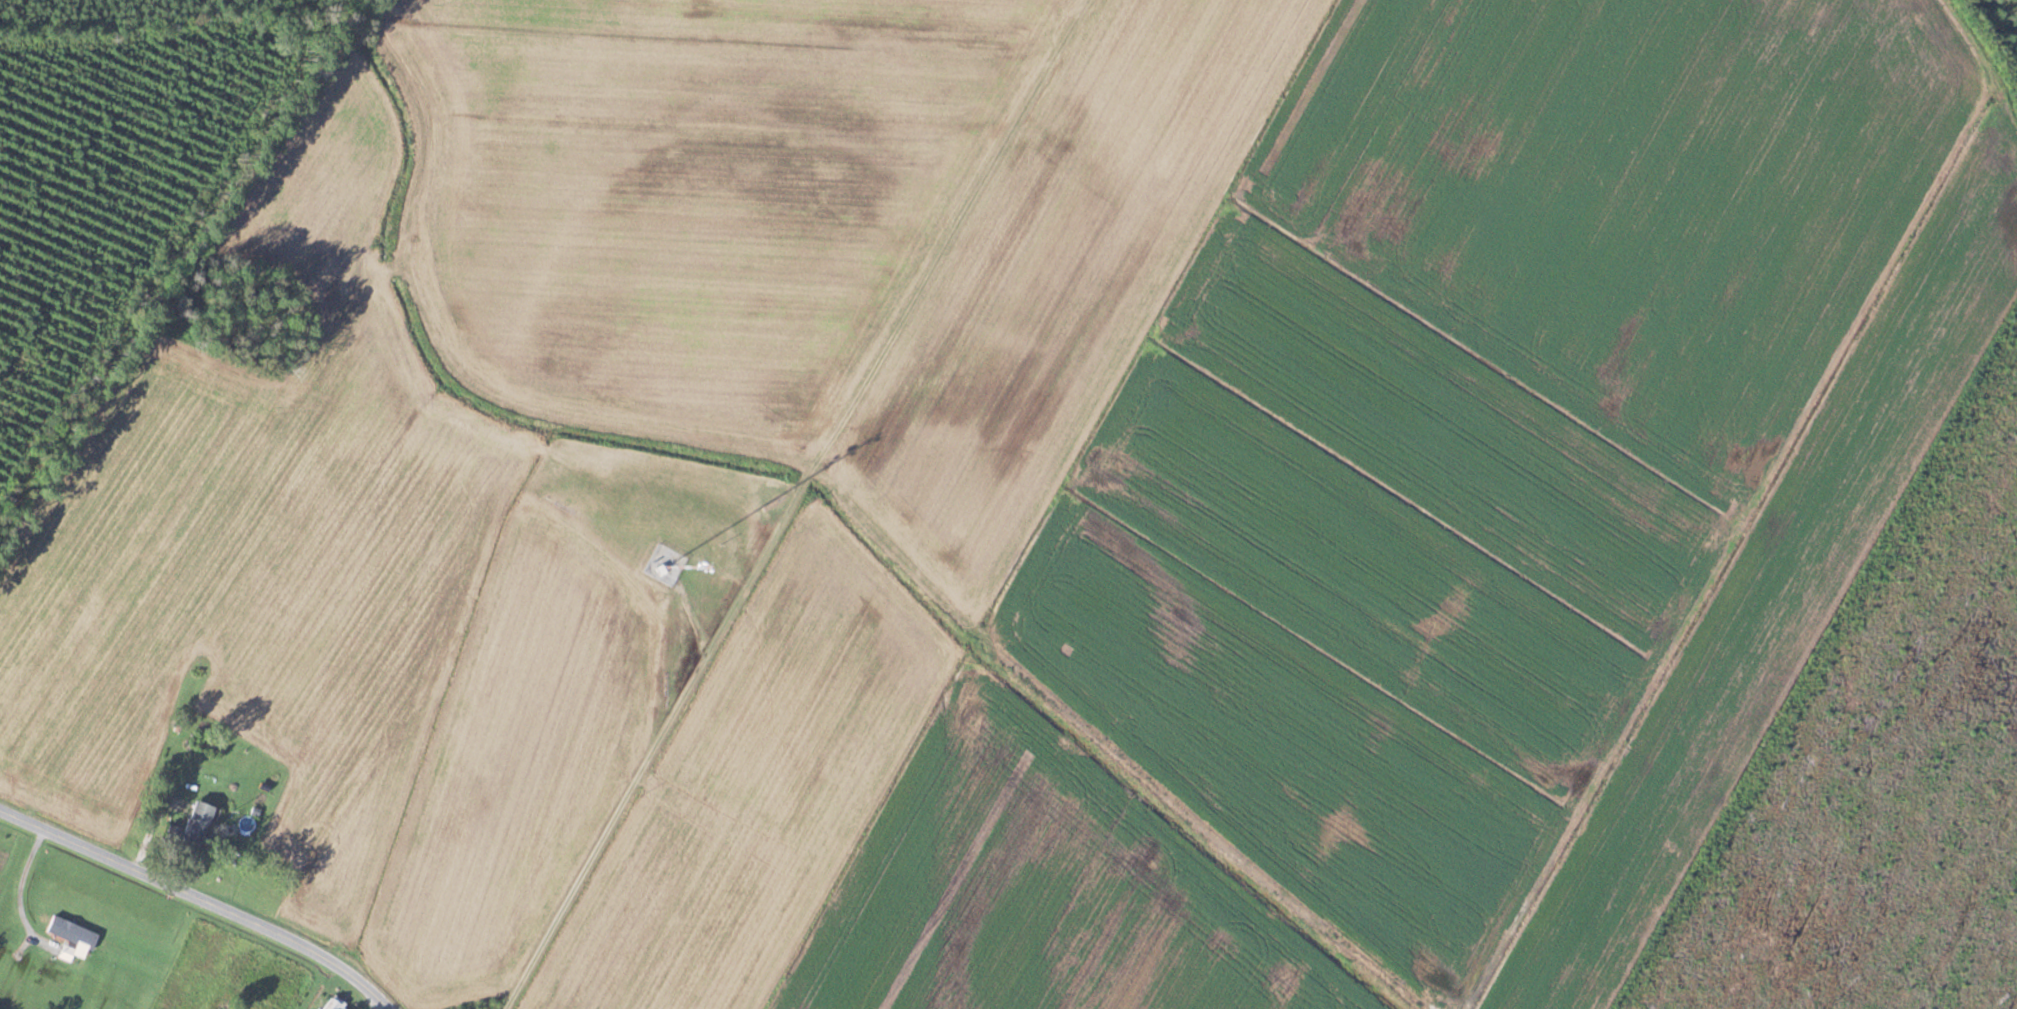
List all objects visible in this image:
building: (190, 827)
road: (606, 832)
road: (202, 899)
building: (70, 932)
building: (336, 1004)

